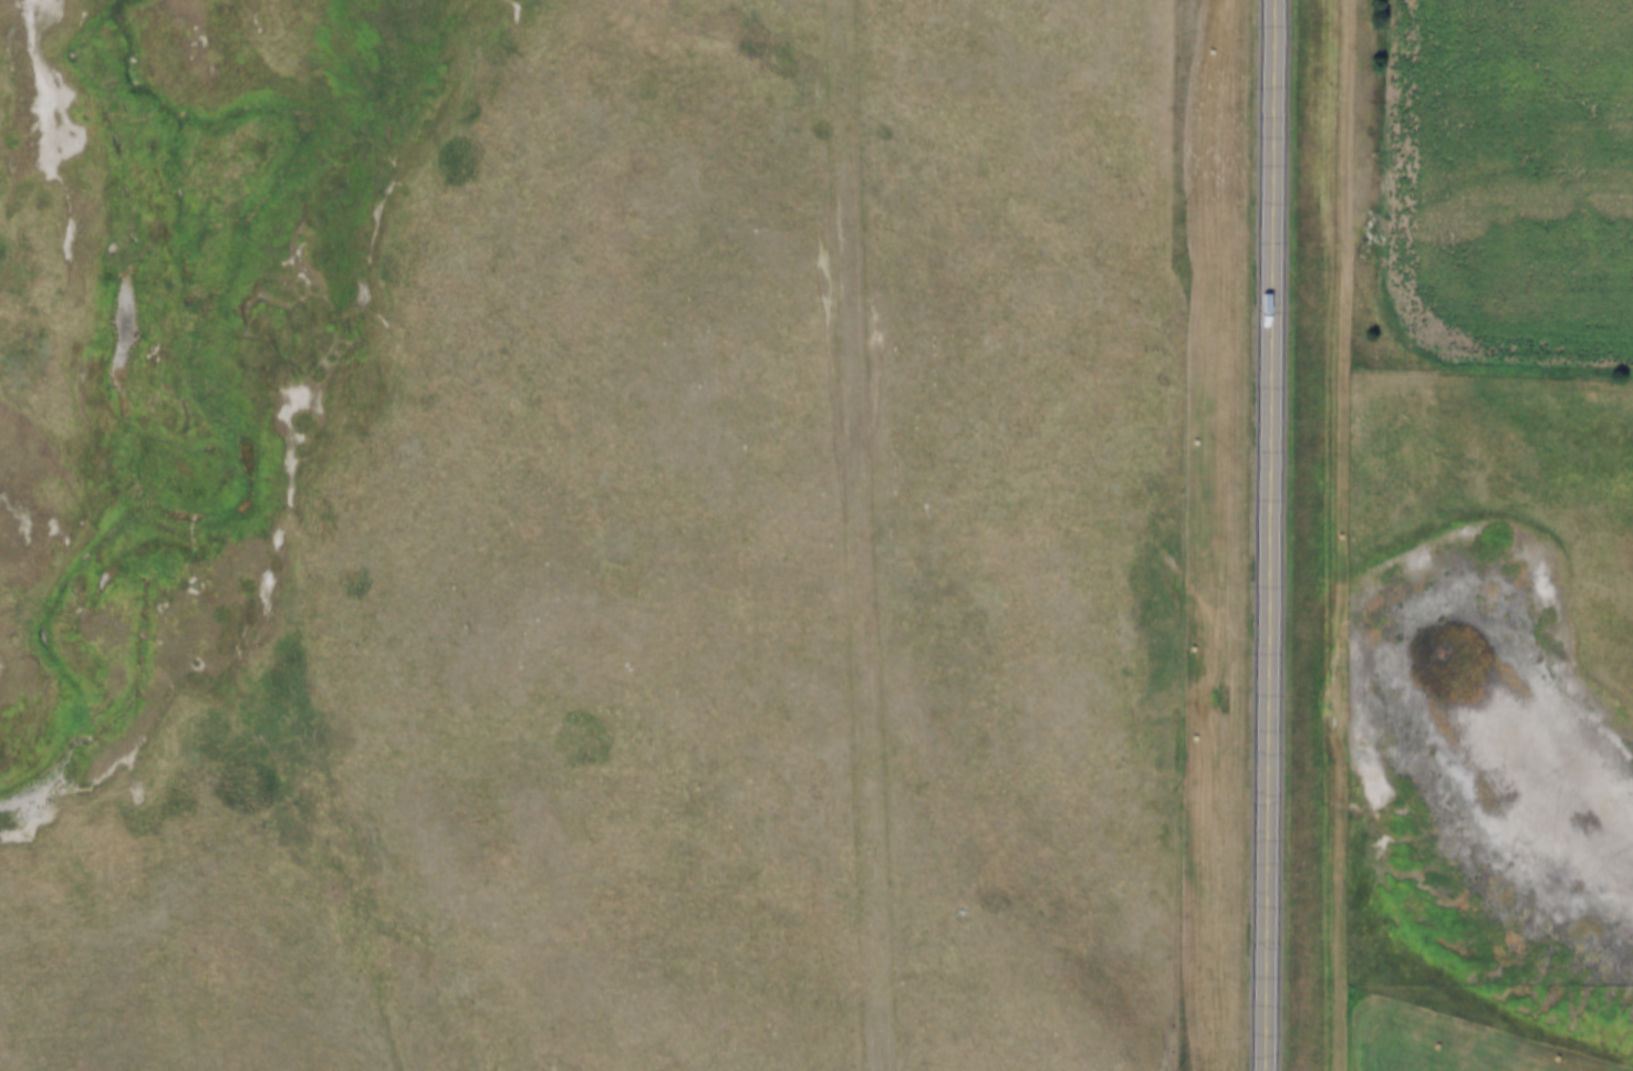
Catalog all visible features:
road: (1272, 535)

